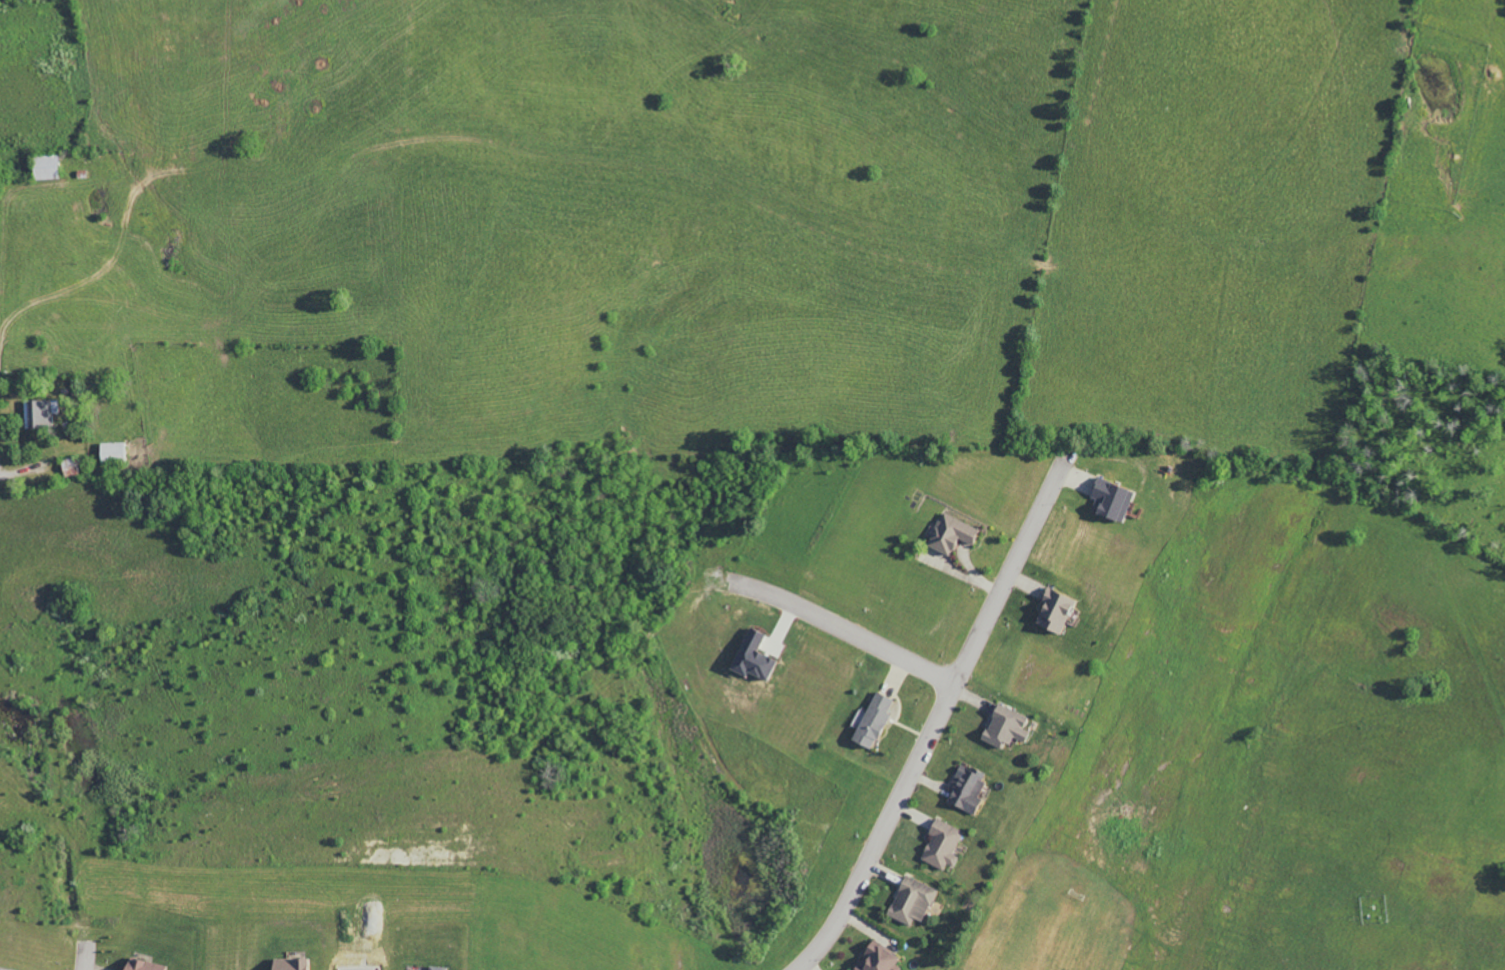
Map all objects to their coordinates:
building: (55, 168)
building: (36, 412)
building: (111, 451)
building: (1108, 499)
building: (949, 532)
building: (1051, 611)
road: (842, 629)
building: (752, 658)
road: (937, 717)
building: (869, 720)
building: (1002, 726)
park: (1280, 749)
building: (965, 789)
building: (940, 844)
building: (910, 900)
building: (875, 958)
building: (287, 964)
building: (140, 965)
building: (434, 968)

